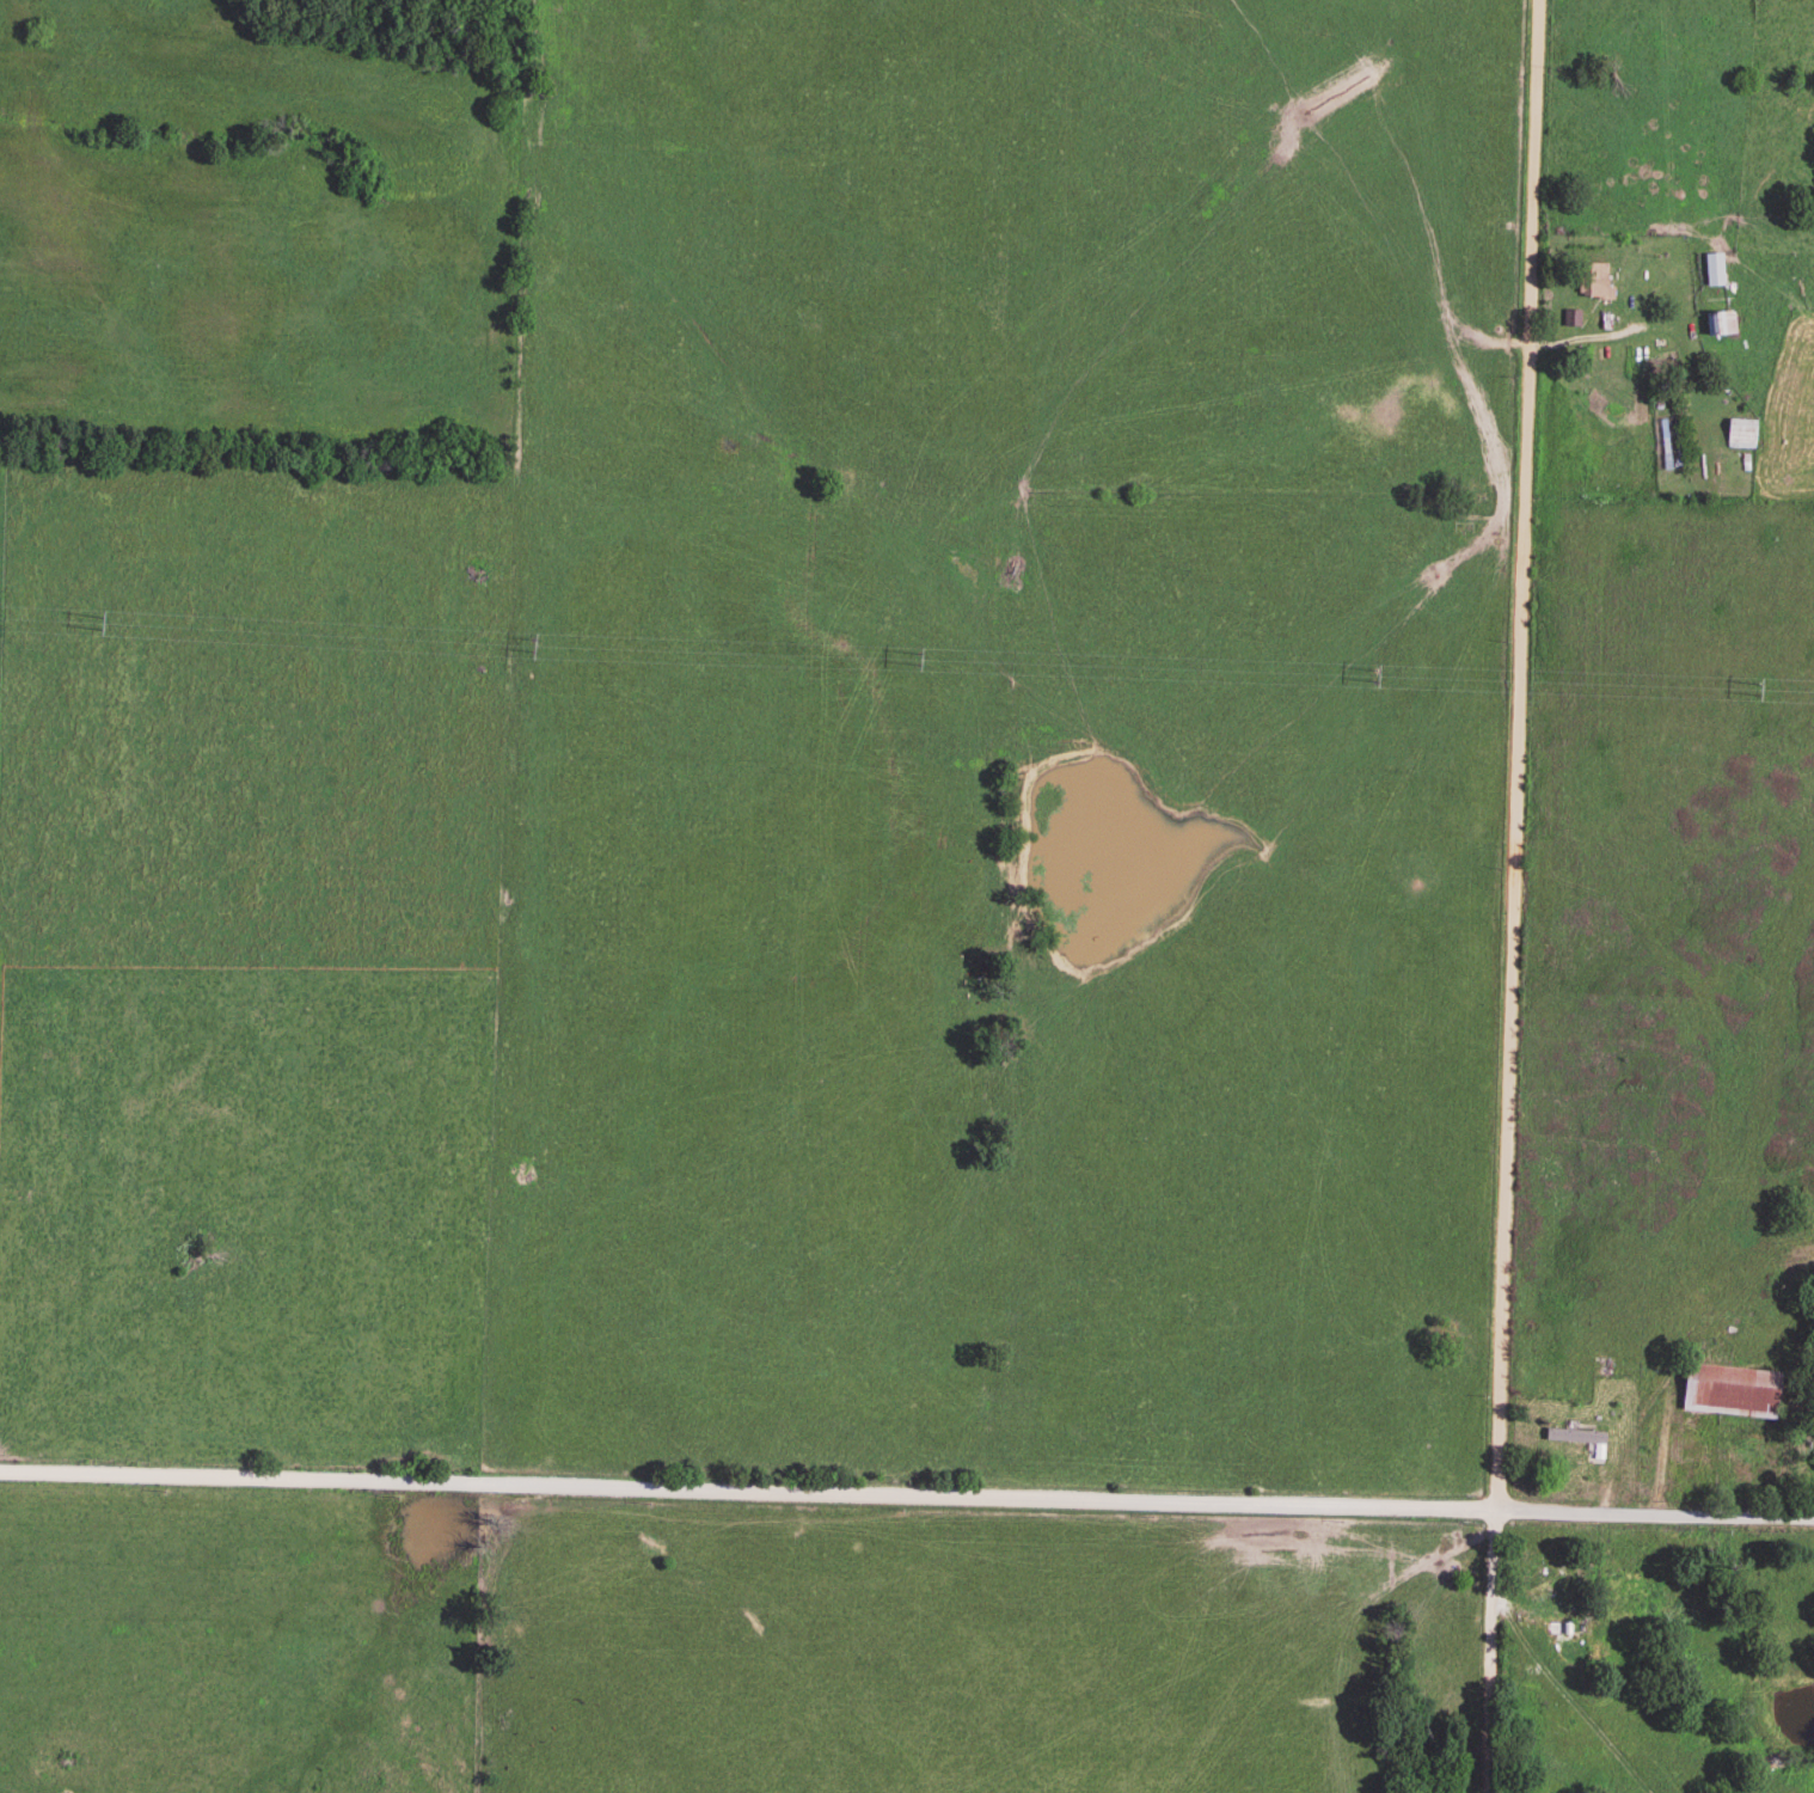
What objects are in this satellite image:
building: (1716, 264)
building: (1597, 276)
power tower: (105, 626)
power tower: (531, 649)
power tower: (919, 660)
power tower: (1375, 678)
power tower: (1757, 691)
road: (1516, 753)
building: (1733, 1387)
building: (1582, 1434)
road: (906, 1493)
road: (1489, 1648)

